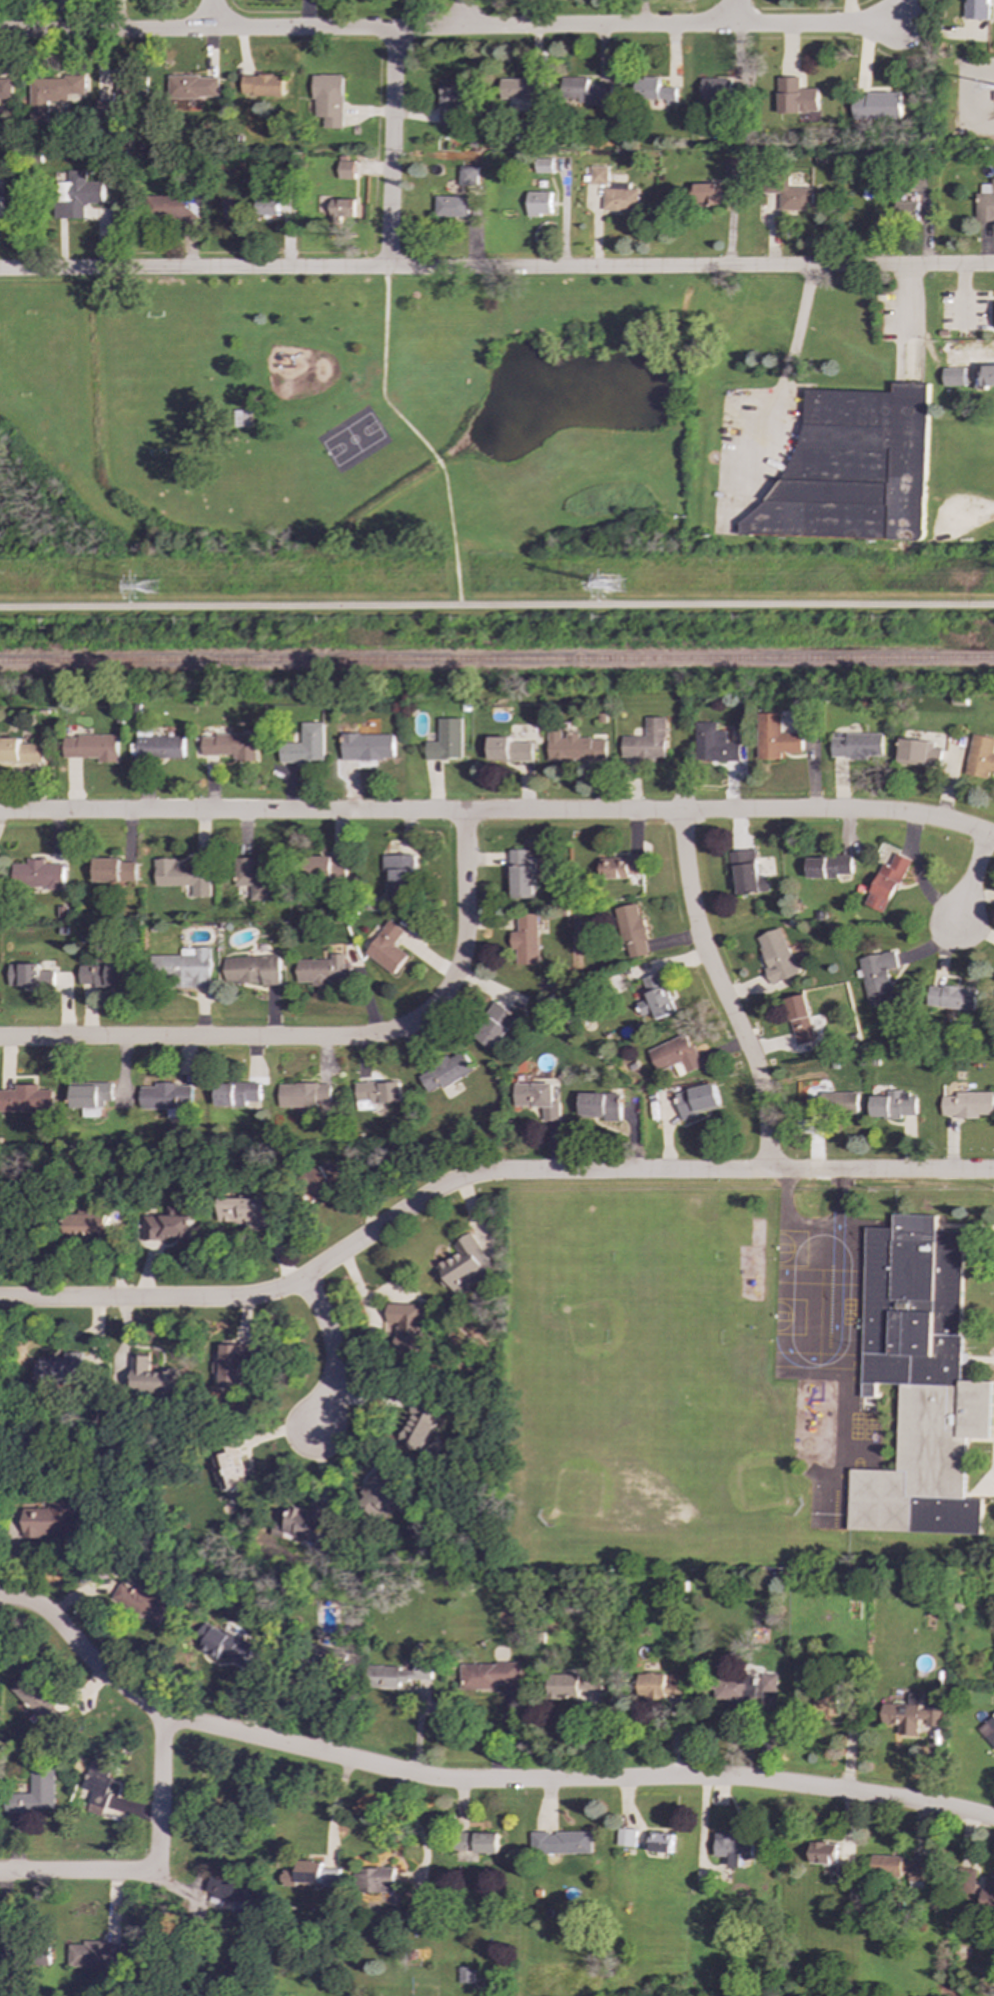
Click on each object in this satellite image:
road: (729, 8)
building: (977, 9)
road: (210, 15)
road: (462, 15)
road: (807, 26)
road: (362, 30)
building: (263, 86)
building: (192, 87)
road: (974, 87)
building: (5, 88)
building: (519, 88)
building: (716, 88)
building: (129, 89)
building: (654, 90)
building: (586, 91)
building: (54, 92)
building: (796, 96)
building: (452, 98)
building: (328, 99)
building: (876, 106)
building: (809, 117)
road: (391, 149)
building: (544, 165)
building: (732, 165)
building: (346, 168)
building: (467, 175)
building: (599, 175)
building: (76, 195)
building: (695, 195)
building: (790, 195)
building: (621, 198)
building: (985, 202)
building: (538, 204)
building: (173, 206)
building: (451, 206)
building: (1, 207)
building: (340, 209)
building: (905, 211)
road: (497, 266)
road: (965, 295)
road: (908, 300)
road: (796, 331)
park: (28, 352)
road: (974, 359)
building: (988, 376)
building: (954, 377)
park: (155, 381)
park: (345, 414)
road: (414, 435)
park: (352, 442)
building: (850, 468)
road: (979, 513)
power tower: (620, 586)
power tower: (156, 589)
road: (496, 605)
railway: (497, 661)
building: (775, 738)
building: (447, 741)
building: (647, 741)
building: (714, 744)
building: (305, 745)
building: (230, 746)
building: (857, 746)
building: (90, 747)
building: (159, 747)
building: (368, 747)
building: (574, 747)
building: (509, 750)
building: (19, 751)
building: (918, 752)
building: (981, 757)
road: (498, 812)
building: (828, 866)
building: (620, 867)
building: (328, 869)
building: (113, 870)
building: (747, 873)
building: (37, 875)
building: (399, 875)
building: (522, 875)
road: (919, 875)
building: (182, 876)
building: (254, 877)
road: (970, 878)
building: (887, 883)
building: (632, 931)
building: (526, 939)
building: (387, 947)
building: (776, 955)
building: (184, 967)
building: (251, 969)
building: (323, 971)
building: (103, 975)
building: (30, 976)
building: (878, 977)
road: (721, 992)
building: (952, 997)
building: (654, 999)
building: (800, 1019)
building: (495, 1026)
road: (322, 1039)
building: (674, 1054)
building: (445, 1073)
building: (379, 1092)
building: (238, 1095)
building: (304, 1095)
building: (91, 1096)
building: (167, 1097)
building: (537, 1099)
building: (26, 1100)
building: (696, 1101)
building: (833, 1104)
building: (967, 1104)
building: (893, 1105)
building: (600, 1106)
road: (480, 1175)
building: (323, 1180)
building: (245, 1212)
building: (87, 1226)
building: (168, 1226)
building: (465, 1268)
building: (406, 1328)
road: (333, 1348)
road: (810, 1359)
building: (233, 1363)
building: (61, 1371)
building: (151, 1377)
building: (919, 1382)
building: (418, 1429)
building: (229, 1469)
building: (380, 1495)
building: (51, 1519)
building: (306, 1522)
building: (141, 1602)
building: (226, 1645)
building: (326, 1655)
building: (398, 1674)
building: (488, 1675)
building: (659, 1685)
building: (575, 1686)
building: (735, 1689)
building: (827, 1706)
building: (903, 1715)
building: (931, 1718)
building: (988, 1730)
road: (473, 1781)
building: (96, 1785)
road: (161, 1790)
building: (34, 1794)
building: (626, 1837)
building: (661, 1842)
building: (561, 1843)
building: (474, 1845)
building: (732, 1848)
building: (823, 1853)
building: (899, 1869)
road: (79, 1873)
building: (312, 1874)
building: (845, 1874)
building: (377, 1880)
building: (988, 1892)
building: (231, 1893)
building: (417, 1904)
building: (95, 1954)
building: (465, 1975)

